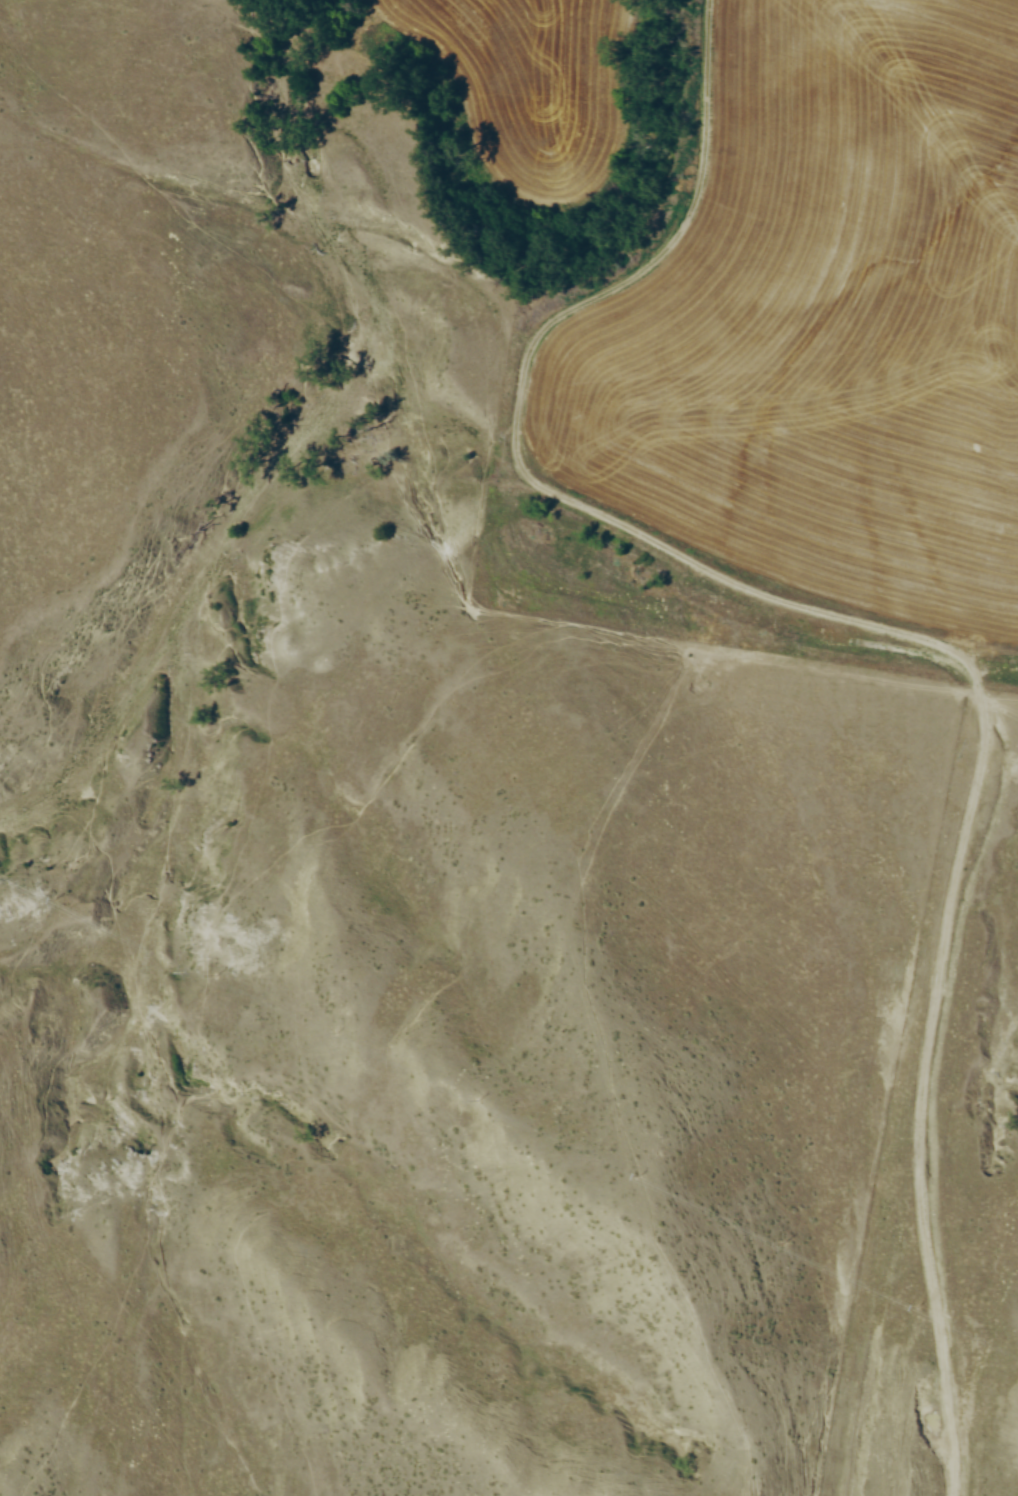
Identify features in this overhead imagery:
crop: (529, 83)
crop: (827, 322)

